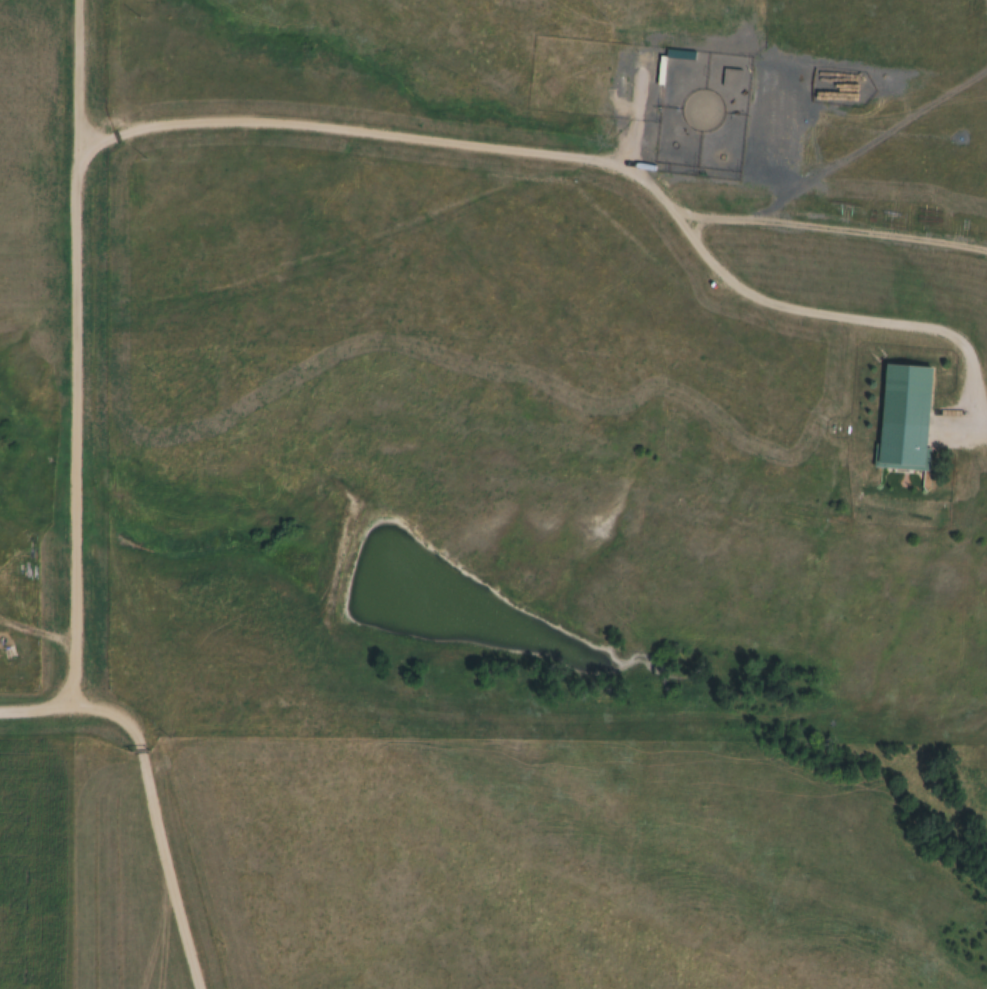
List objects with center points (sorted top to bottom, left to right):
building: (623, 78)
building: (901, 418)
road: (74, 515)
road: (43, 707)

